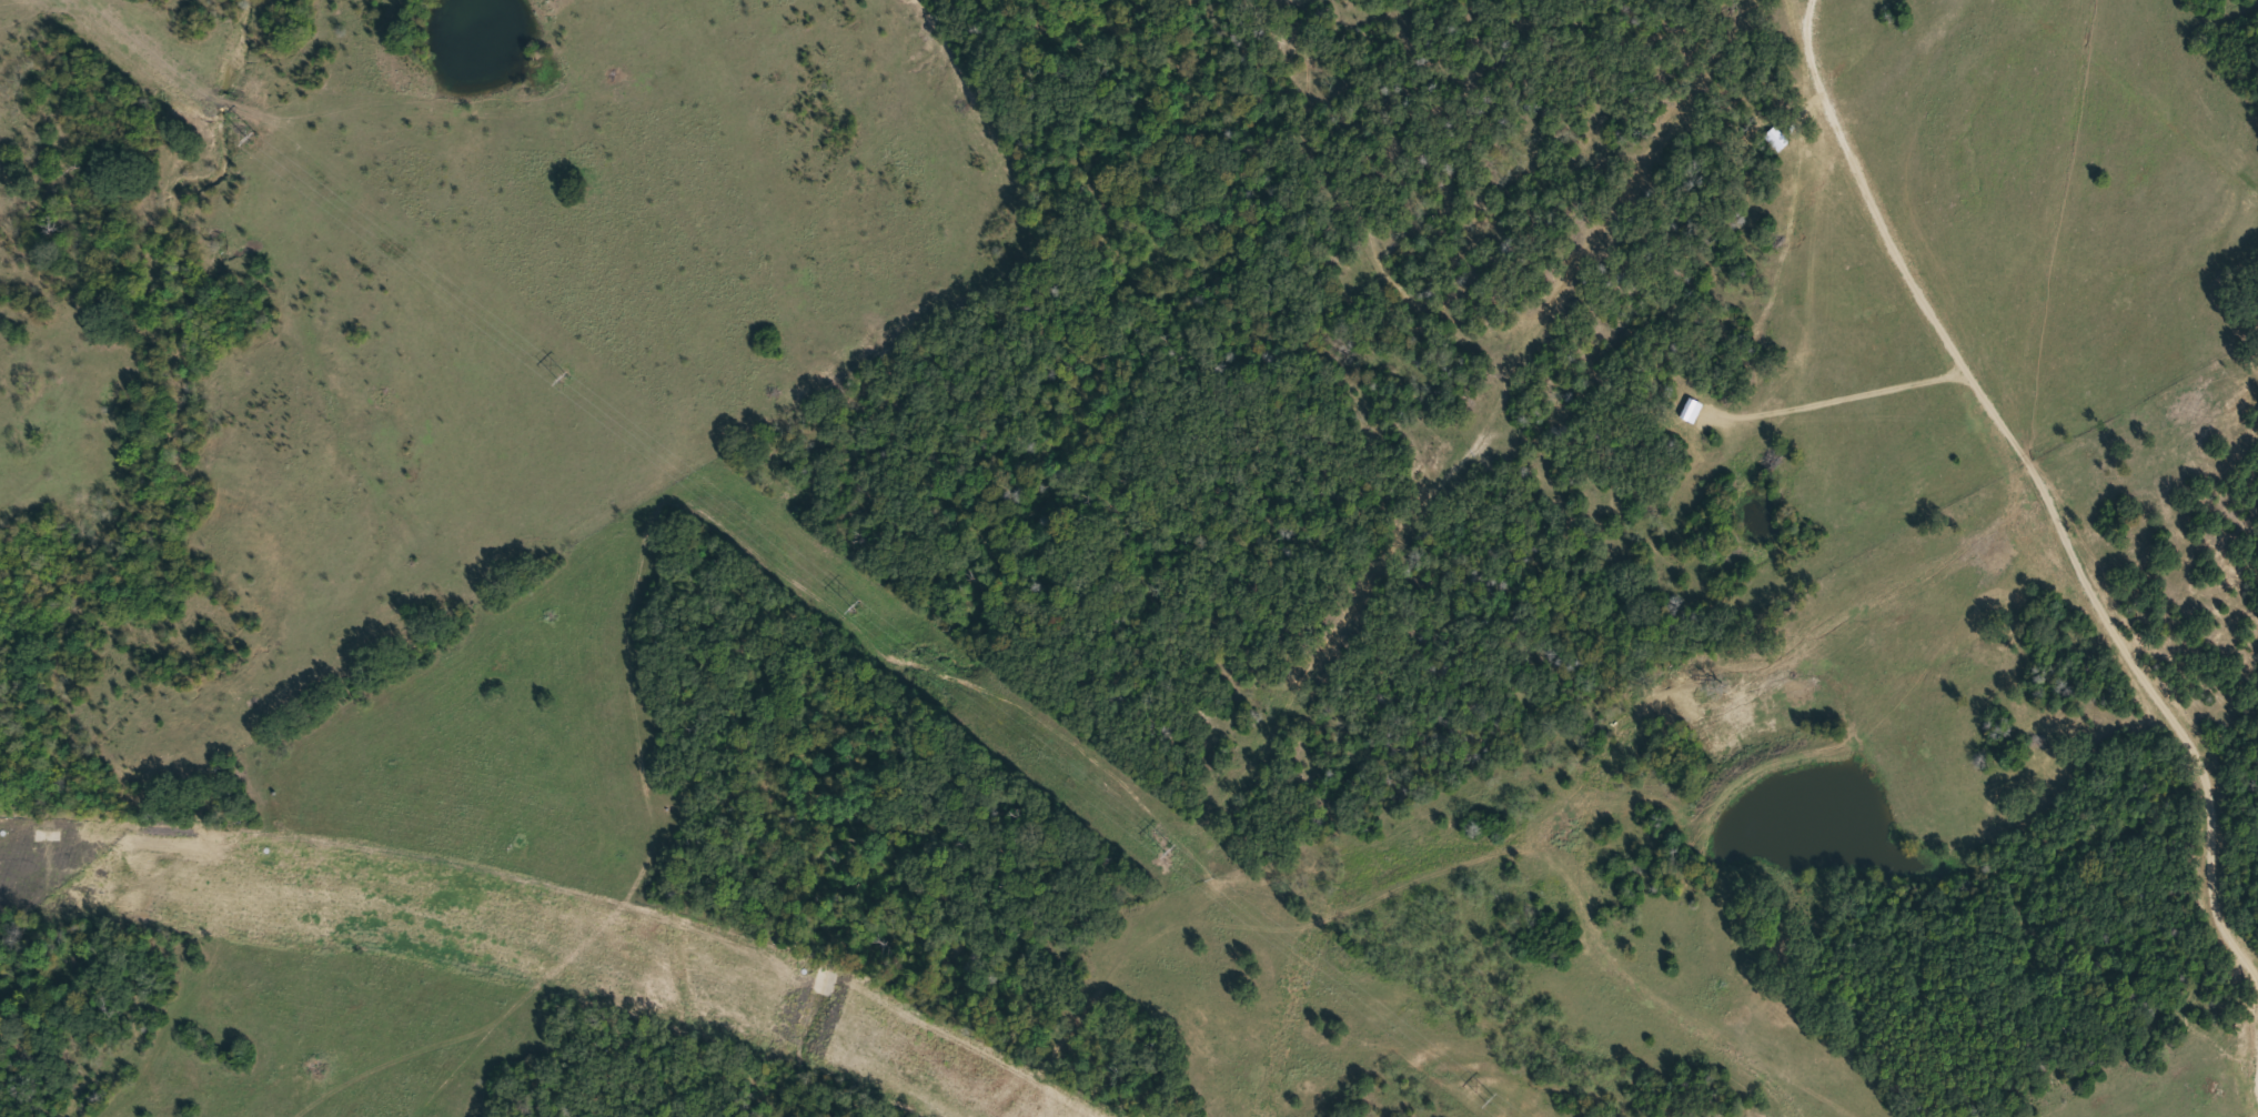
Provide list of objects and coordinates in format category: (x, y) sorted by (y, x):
power tower: (264, 122)
power tower: (869, 607)

